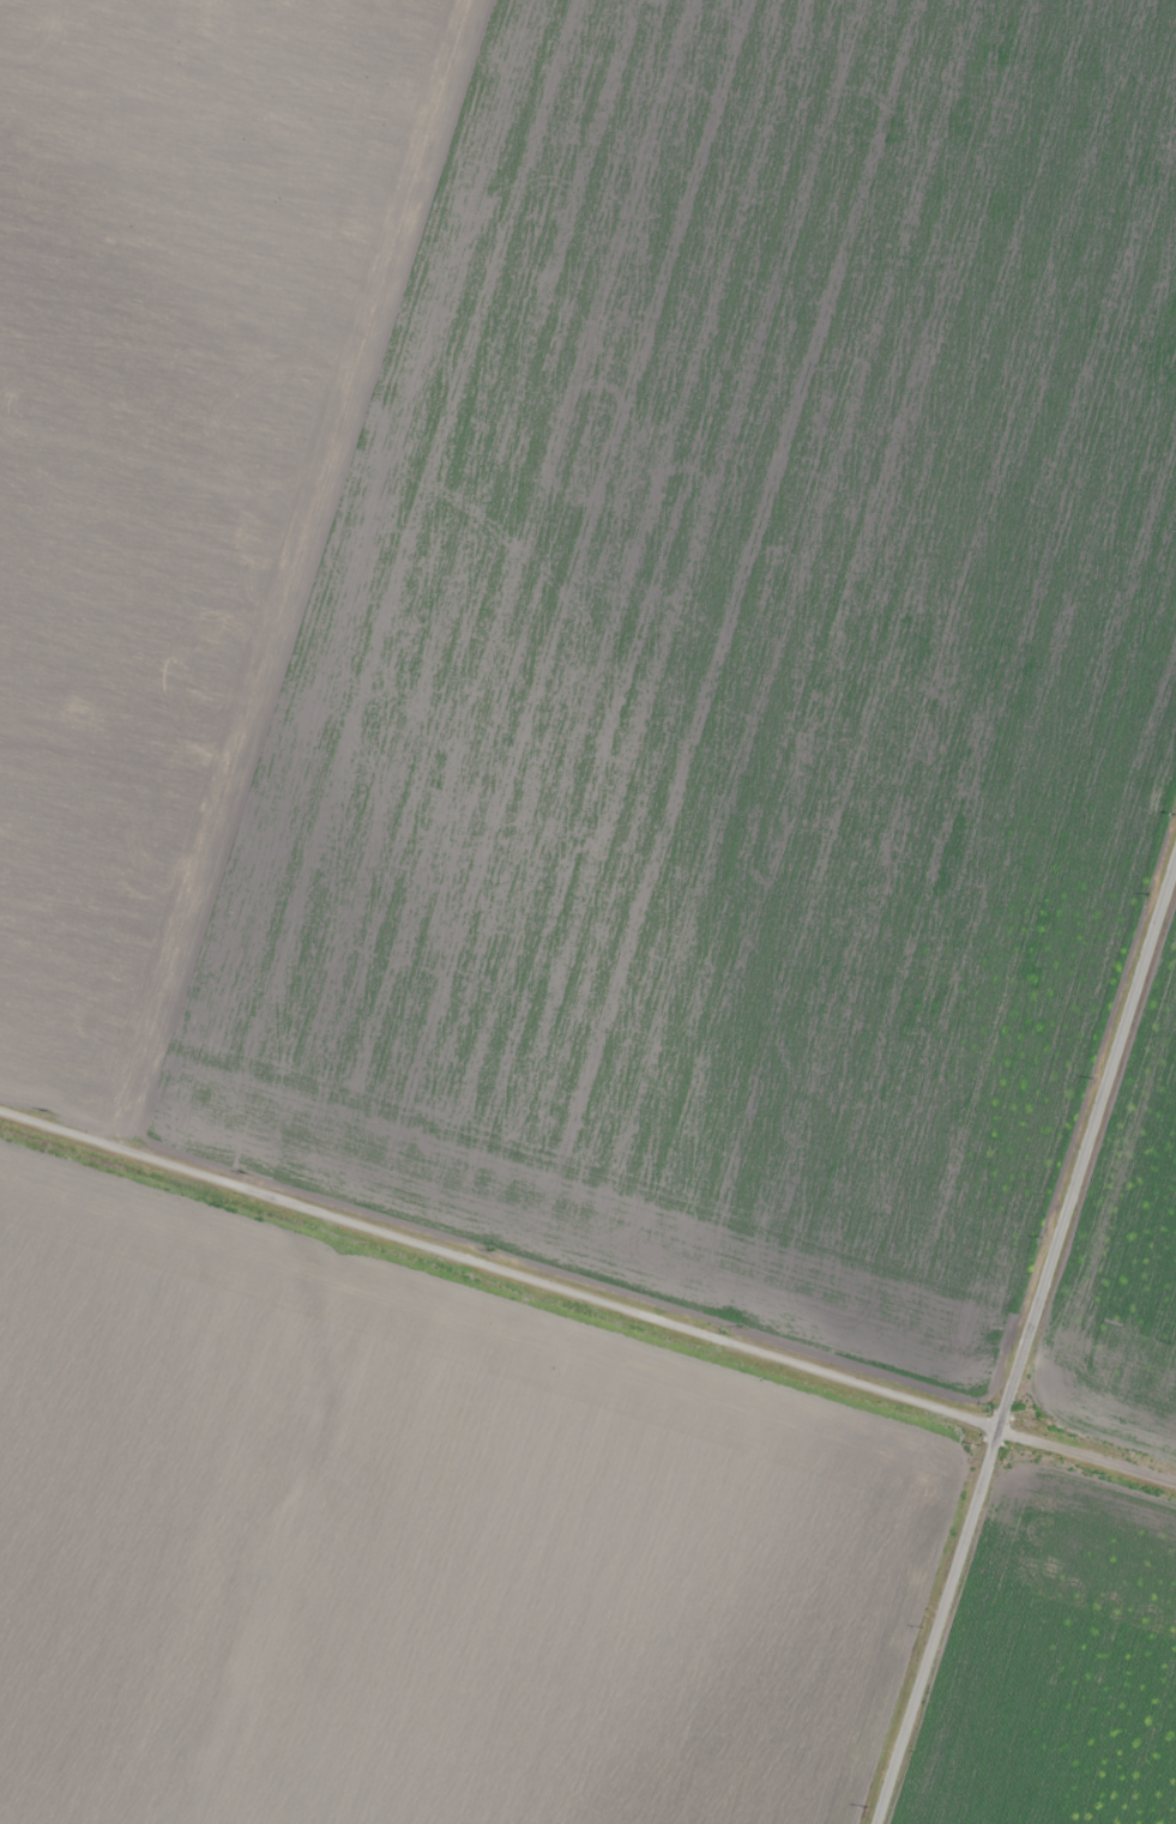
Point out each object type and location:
crop: (1135, 1276)
road: (587, 1284)
road: (1035, 1375)

